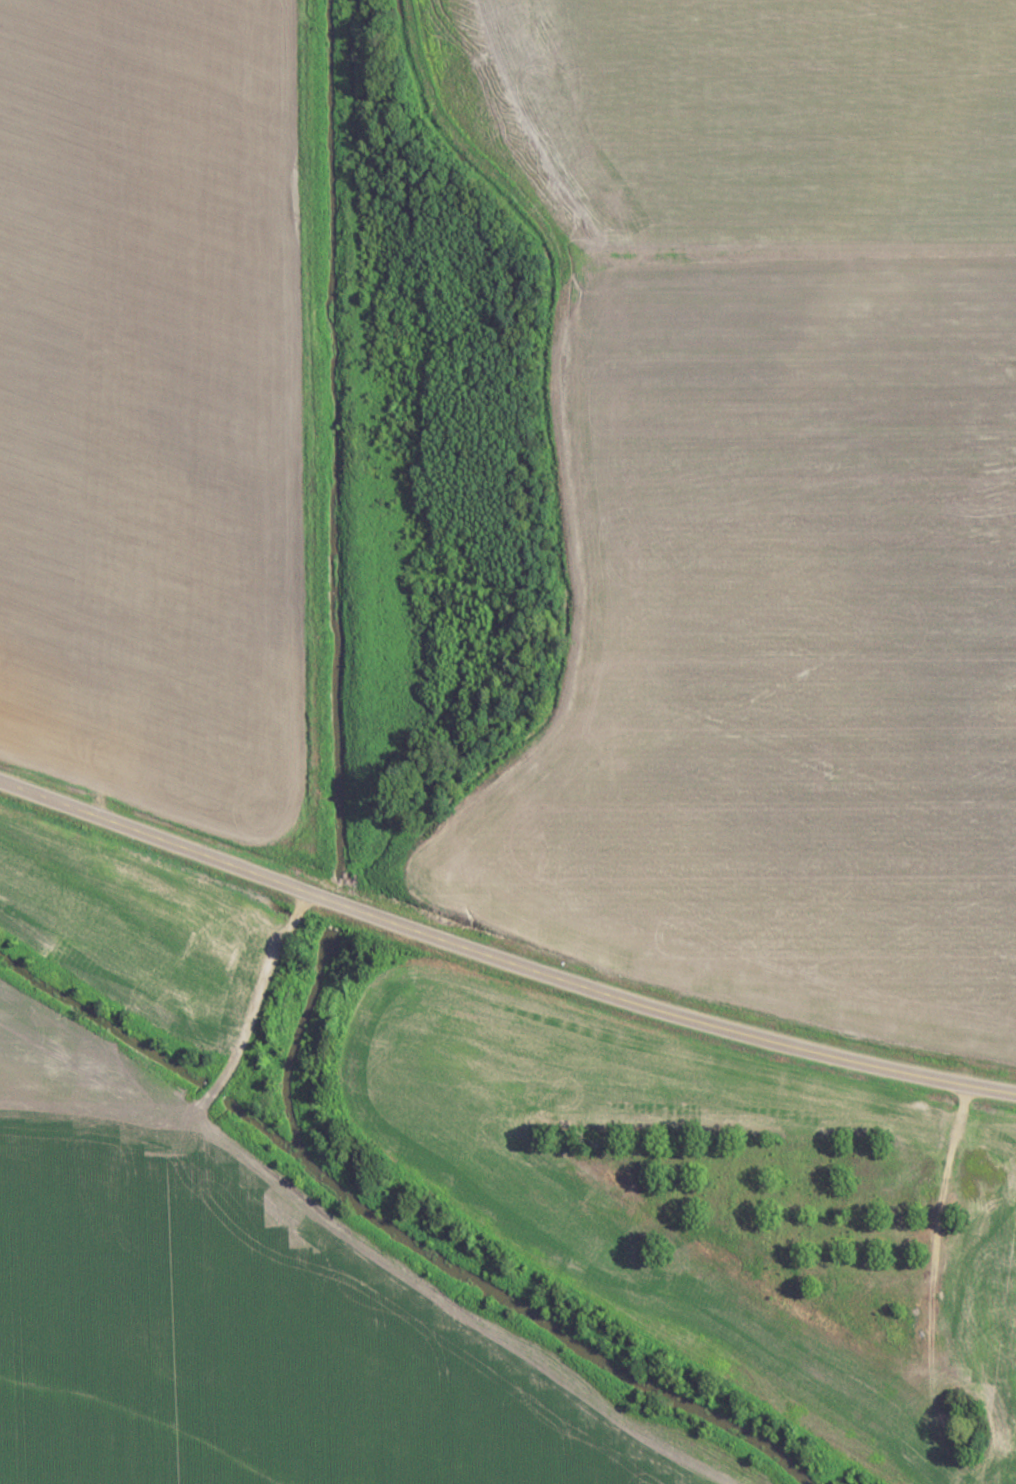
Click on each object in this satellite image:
road: (500, 959)

